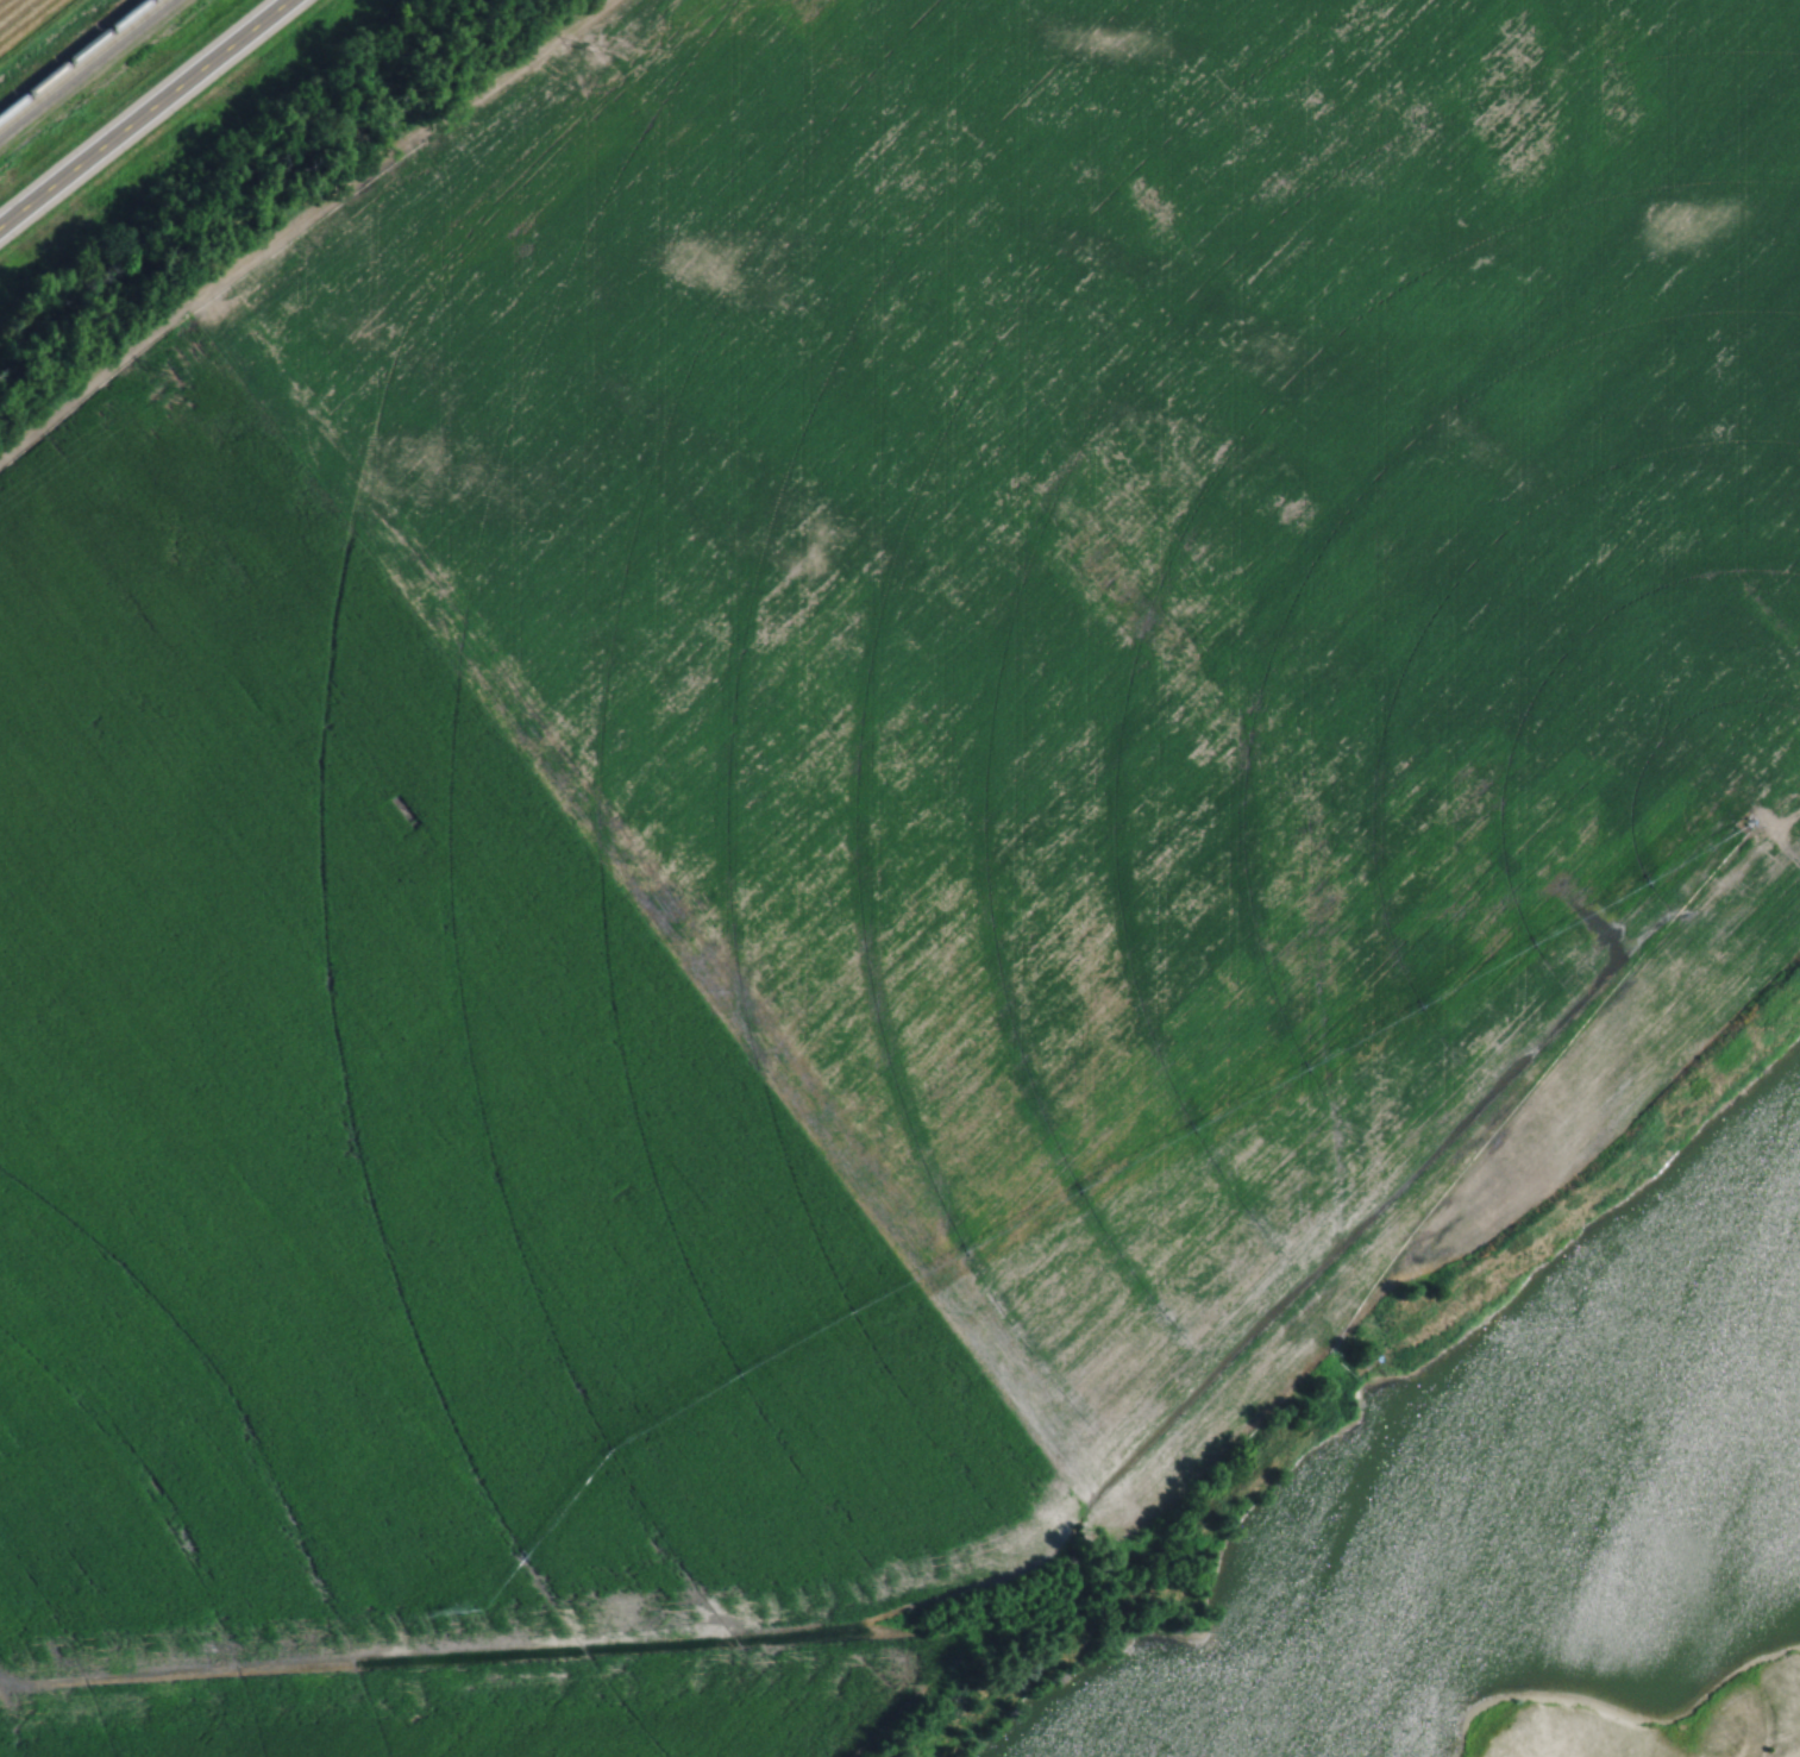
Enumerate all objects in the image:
railway: (73, 57)
railway: (83, 65)
road: (149, 118)

